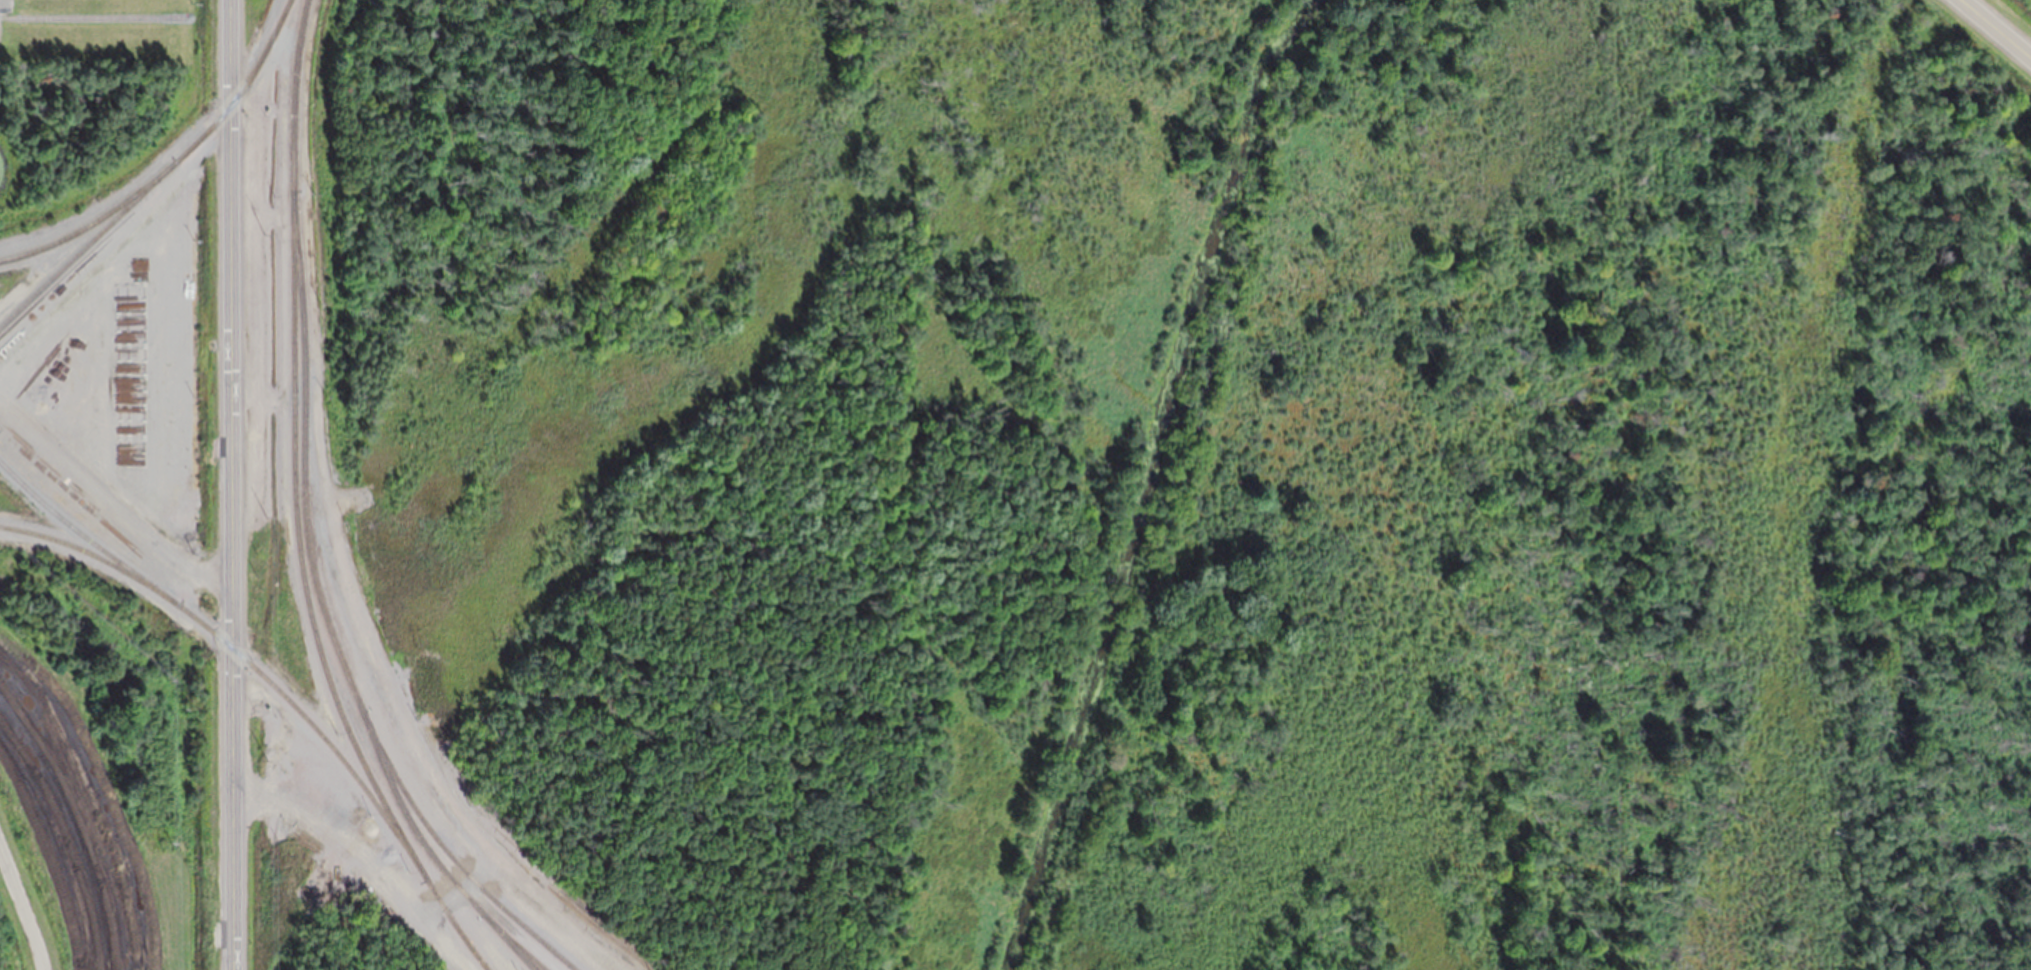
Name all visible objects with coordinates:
railway: (80, 17)
road: (1997, 27)
road: (229, 53)
railway: (159, 175)
railway: (92, 222)
road: (230, 376)
railway: (292, 450)
railway: (84, 535)
railway: (91, 553)
railway: (326, 611)
railway: (387, 711)
railway: (313, 725)
road: (230, 808)
railway: (453, 924)
road: (518, 929)
railway: (514, 943)

